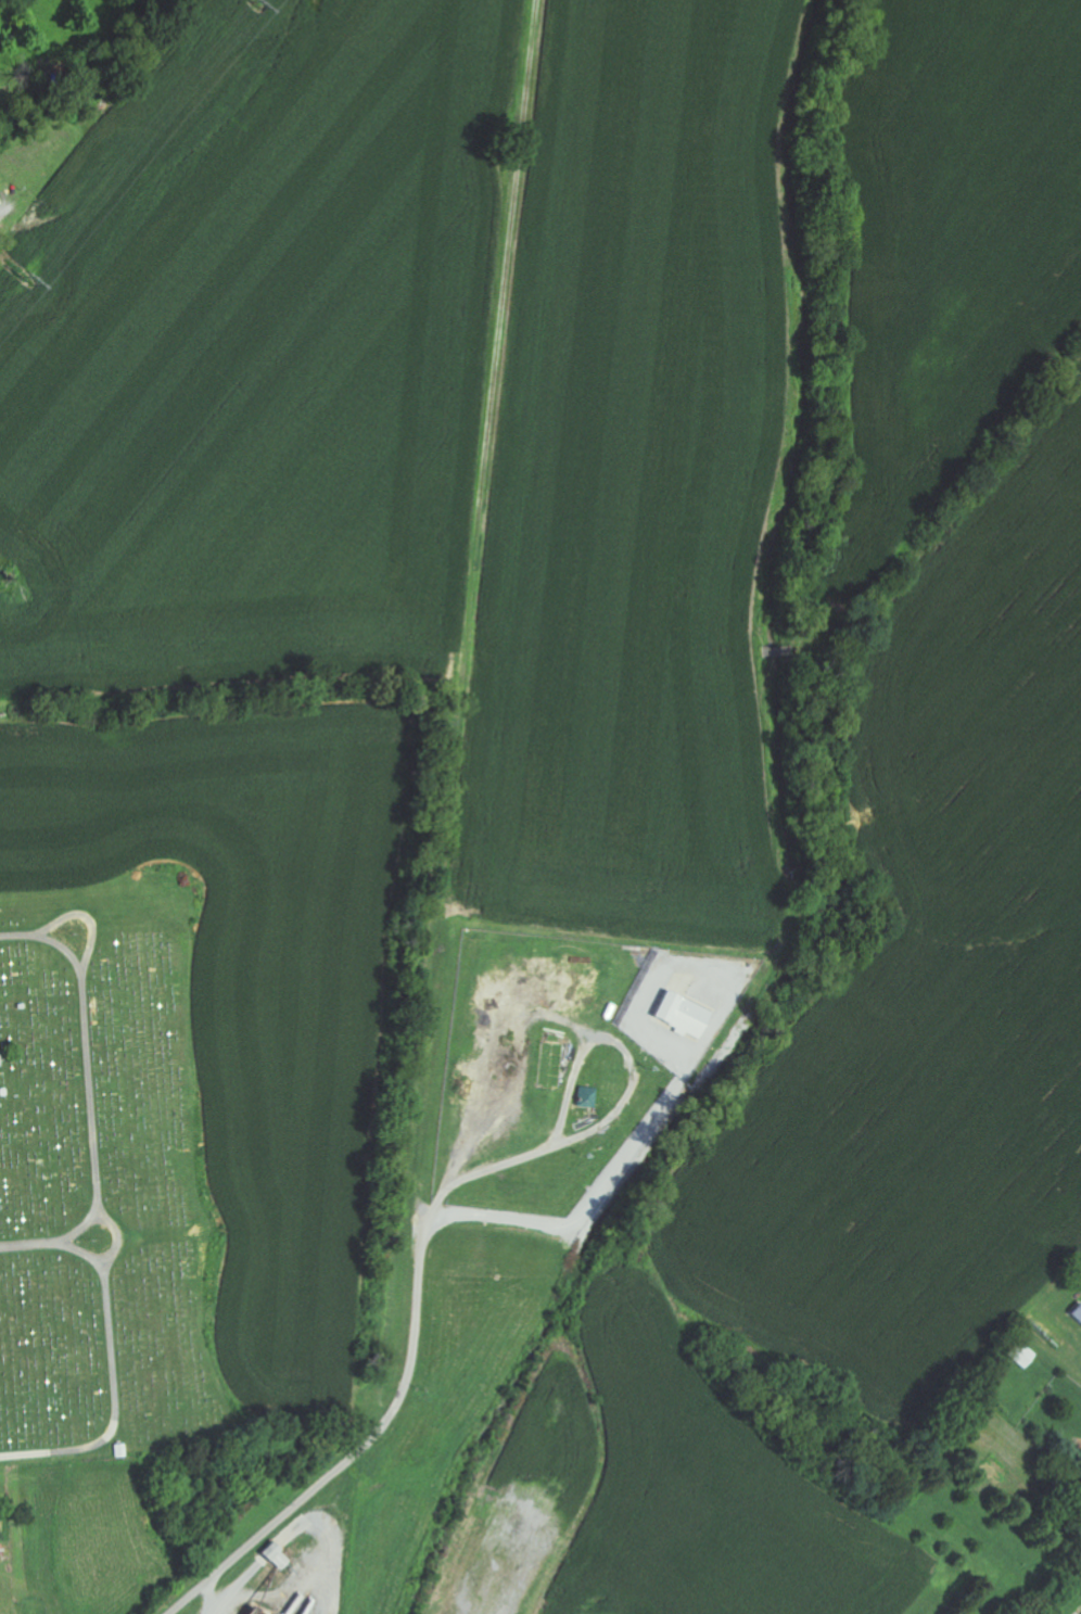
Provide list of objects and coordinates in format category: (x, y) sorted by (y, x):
road: (50, 942)
building: (678, 1014)
road: (86, 1072)
road: (441, 1080)
building: (585, 1097)
park: (100, 1181)
road: (33, 1243)
building: (1076, 1312)
building: (1019, 1354)
road: (110, 1364)
road: (407, 1367)
building: (275, 1556)

